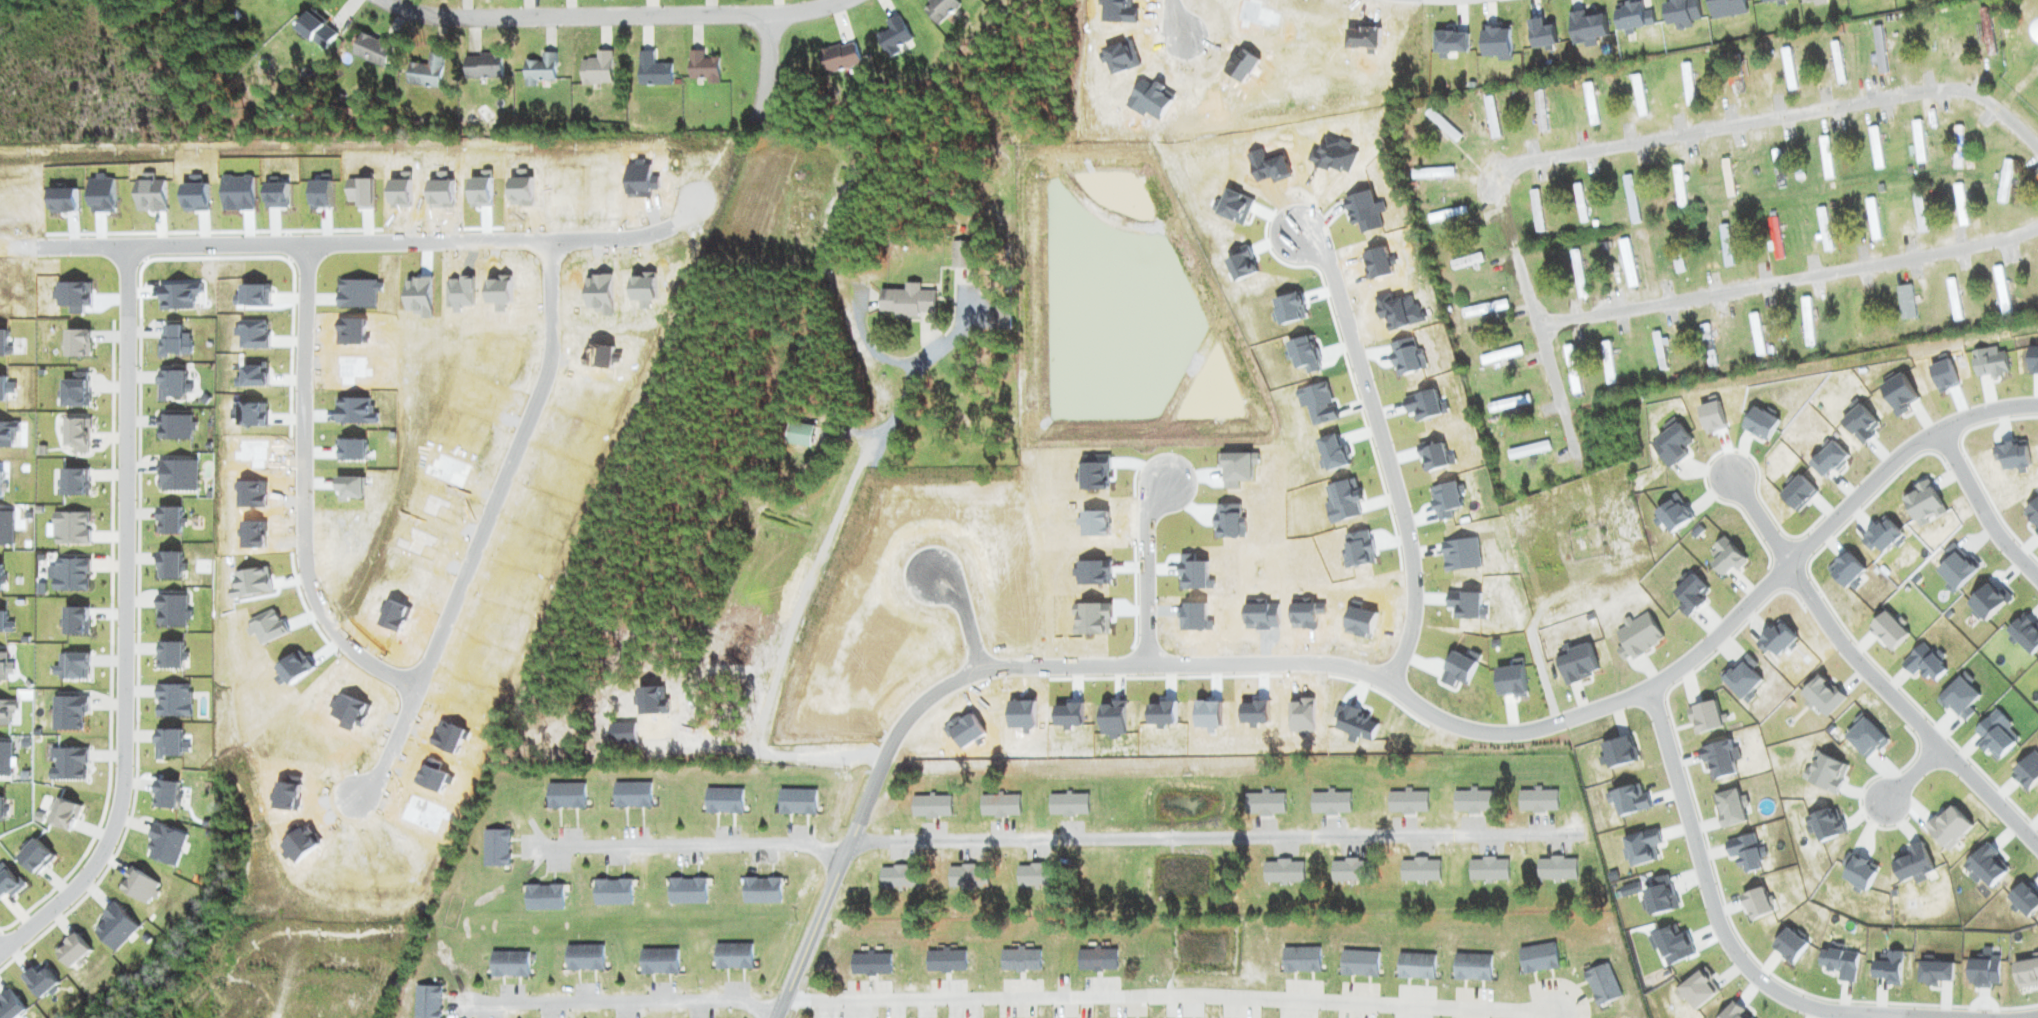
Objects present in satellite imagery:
road: (615, 15)
road: (1175, 18)
building: (315, 31)
building: (1986, 32)
building: (2037, 36)
building: (894, 37)
building: (372, 50)
building: (1879, 51)
building: (838, 58)
building: (1837, 63)
building: (482, 66)
building: (701, 68)
building: (1788, 69)
building: (539, 70)
building: (652, 71)
road: (767, 72)
building: (426, 73)
building: (1687, 85)
building: (1738, 88)
building: (1821, 95)
building: (1638, 96)
building: (1589, 104)
building: (1540, 111)
road: (1787, 116)
building: (1491, 118)
building: (1442, 125)
building: (1918, 142)
building: (1875, 148)
building: (1957, 148)
building: (1825, 158)
building: (1725, 167)
building: (1432, 173)
building: (1282, 174)
building: (2004, 182)
building: (1678, 187)
building: (1729, 190)
building: (1579, 204)
building: (1960, 206)
building: (1536, 211)
building: (1918, 213)
building: (1446, 215)
building: (1872, 220)
building: (1823, 230)
building: (1774, 240)
road: (336, 243)
building: (1725, 246)
building: (960, 255)
building: (1676, 257)
building: (1465, 262)
building: (1627, 264)
building: (1577, 274)
road: (1789, 279)
building: (2000, 291)
building: (1953, 300)
building: (906, 301)
road: (1531, 302)
building: (1905, 303)
building: (1484, 309)
building: (1856, 315)
building: (1755, 332)
building: (1707, 346)
building: (1658, 351)
building: (1499, 356)
building: (1607, 362)
building: (1571, 369)
building: (1223, 397)
building: (1508, 403)
building: (798, 434)
building: (1528, 450)
building: (1259, 452)
road: (1385, 452)
road: (306, 490)
road: (1982, 505)
road: (1761, 518)
building: (892, 521)
road: (485, 524)
road: (1146, 567)
road: (965, 619)
road: (123, 621)
building: (928, 642)
building: (842, 653)
building: (1139, 658)
building: (1101, 691)
building: (490, 704)
building: (458, 710)
road: (1906, 711)
road: (1486, 732)
road: (1916, 770)
building: (631, 794)
building: (564, 795)
building: (722, 800)
building: (1537, 800)
building: (796, 802)
building: (1407, 802)
building: (1472, 802)
building: (1329, 803)
building: (1066, 804)
building: (1264, 804)
building: (999, 805)
building: (930, 806)
road: (1210, 839)
road: (692, 844)
building: (495, 848)
building: (1488, 869)
building: (1556, 869)
building: (1419, 870)
building: (1347, 871)
building: (1283, 872)
building: (1032, 875)
building: (967, 876)
building: (895, 877)
building: (686, 891)
building: (761, 891)
road: (829, 891)
building: (612, 893)
building: (543, 897)
road: (1732, 947)
building: (732, 956)
building: (583, 957)
building: (1096, 959)
building: (1300, 959)
building: (1019, 960)
building: (944, 961)
building: (658, 962)
building: (869, 963)
building: (1358, 963)
building: (508, 964)
building: (1415, 965)
road: (1172, 996)
building: (427, 1001)
road: (622, 1001)
road: (2027, 1016)

